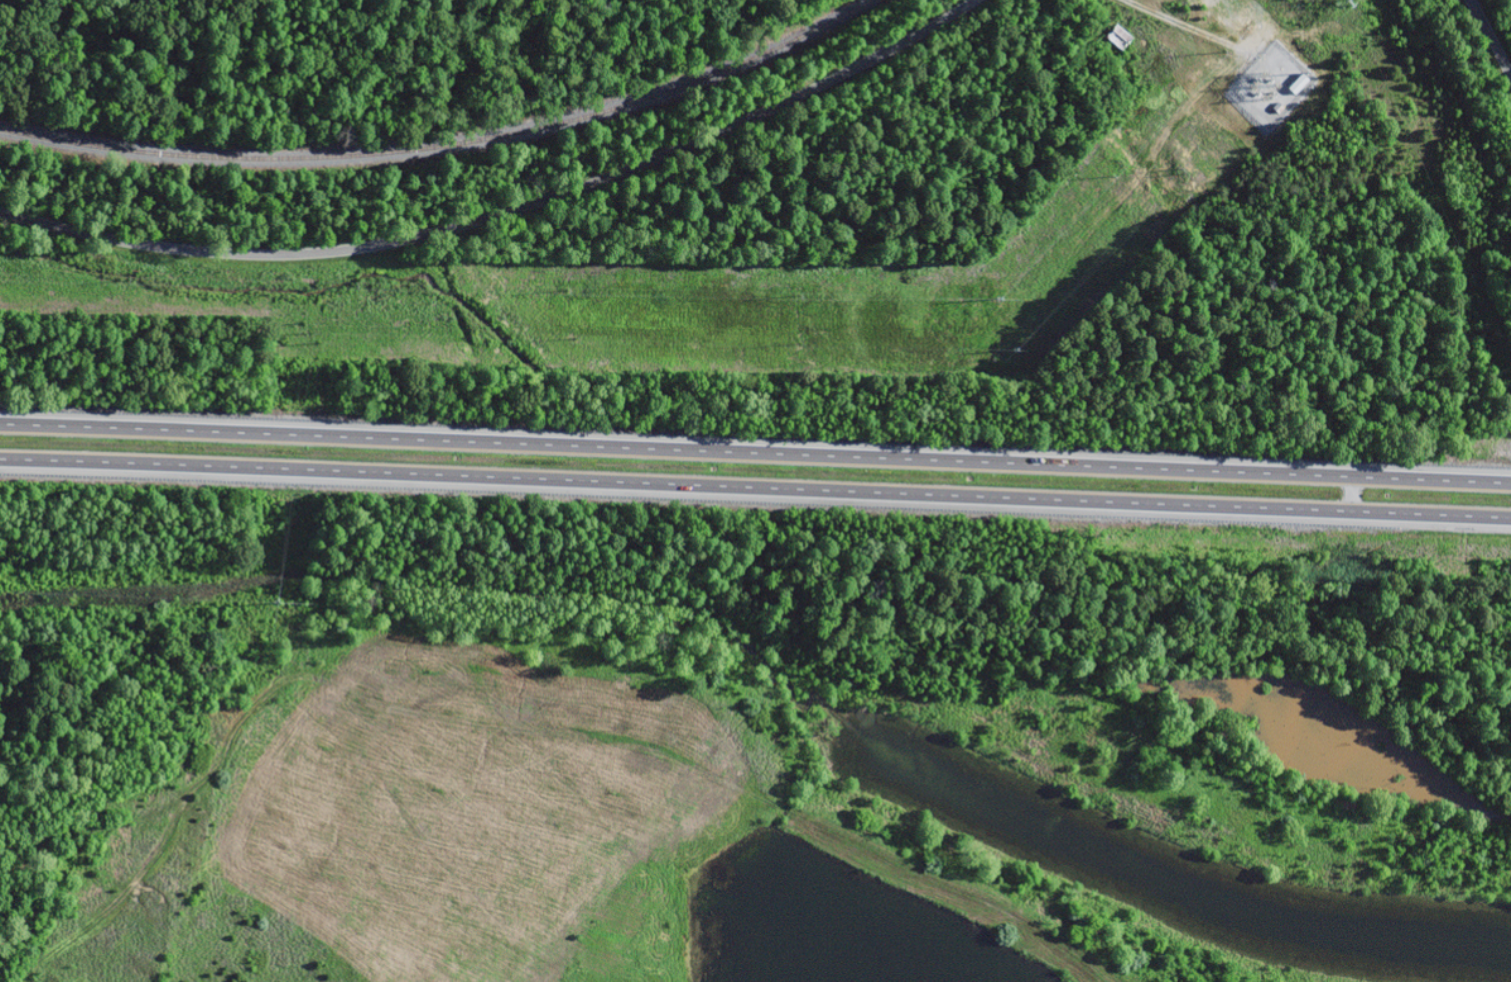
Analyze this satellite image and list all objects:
road: (1490, 39)
power substation: (1270, 90)
railway: (437, 148)
power tower: (1163, 164)
road: (503, 219)
power tower: (312, 337)
power tower: (1010, 351)
road: (755, 452)
road: (755, 488)
road: (1352, 494)
power tower: (266, 603)

